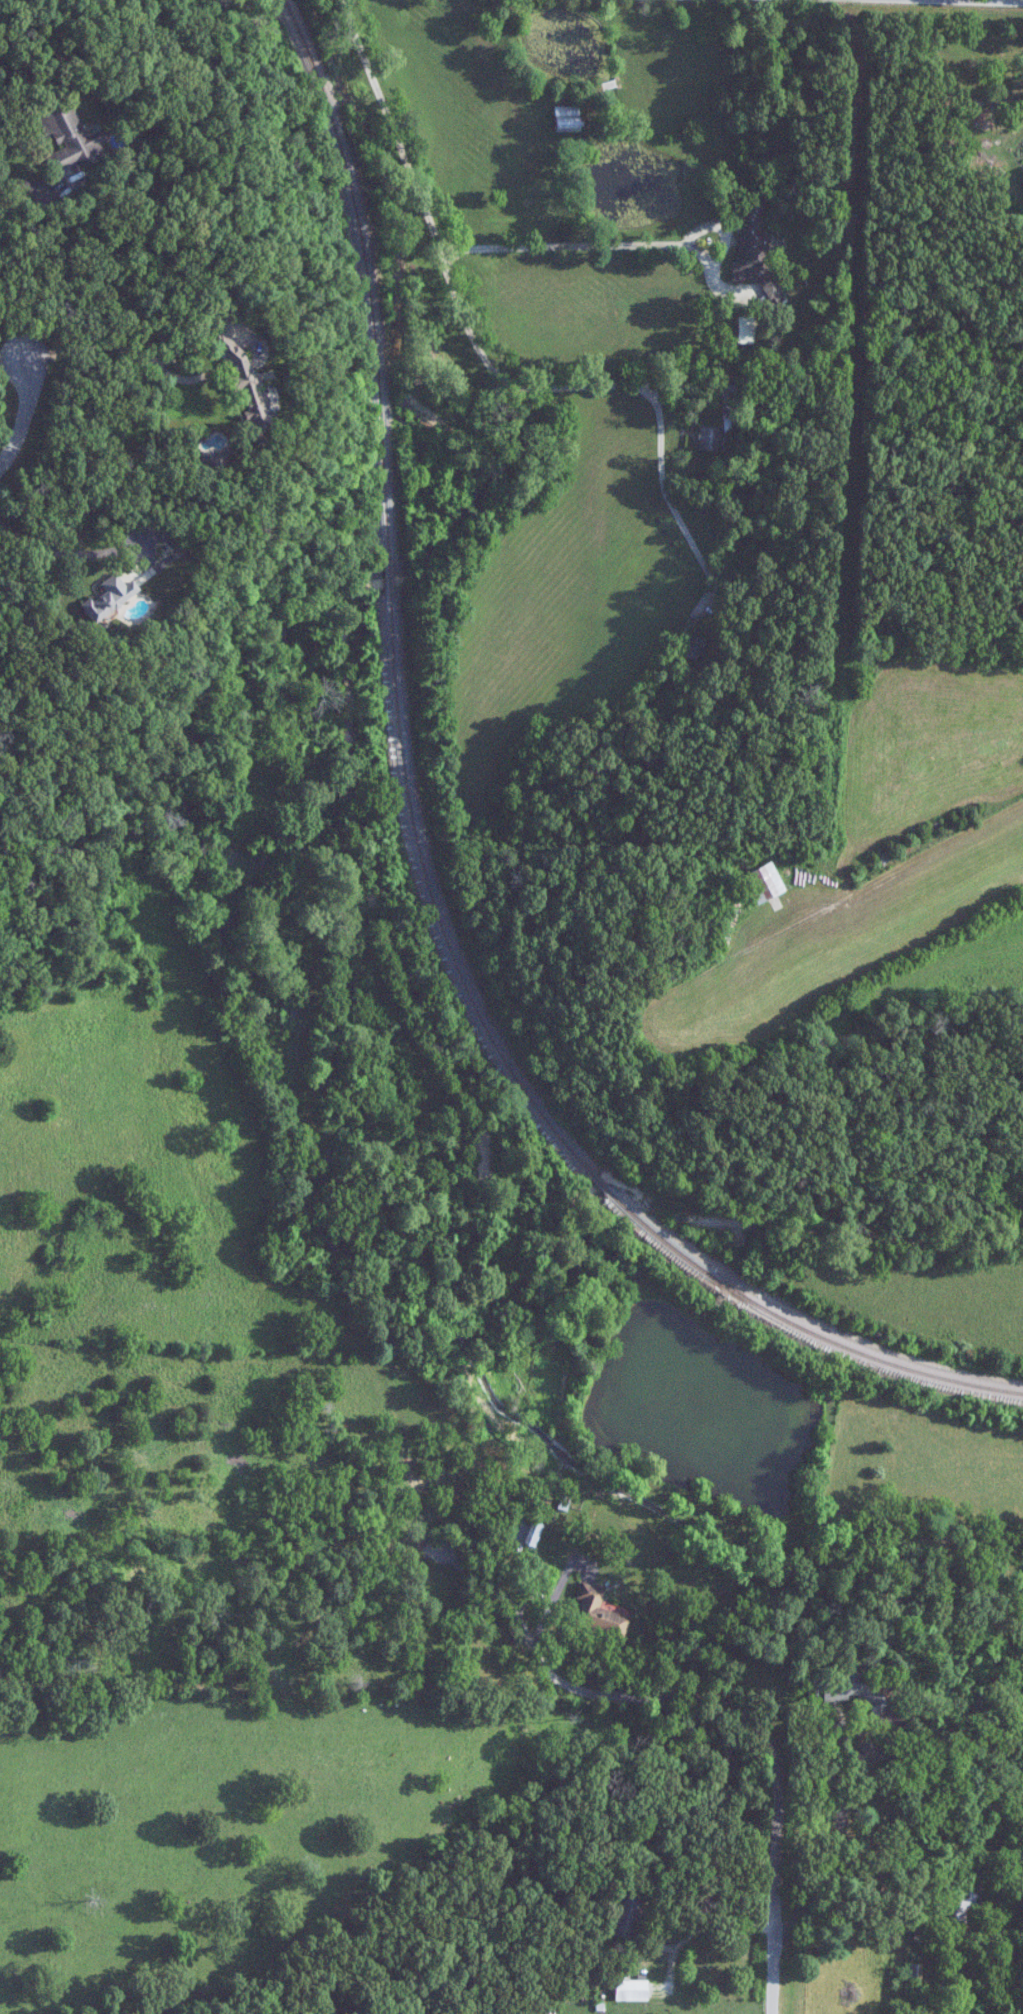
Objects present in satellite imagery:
road: (998, 0)
building: (567, 118)
building: (71, 137)
road: (22, 237)
road: (614, 243)
building: (756, 254)
railway: (361, 273)
road: (450, 285)
road: (157, 358)
building: (245, 384)
road: (24, 415)
building: (709, 438)
building: (214, 459)
road: (668, 501)
road: (63, 550)
railway: (389, 578)
building: (112, 597)
building: (694, 648)
building: (765, 883)
airport runway: (839, 931)
railway: (550, 1120)
building: (528, 1531)
building: (599, 1611)
building: (843, 1687)
road: (740, 1748)
building: (957, 1905)
building: (627, 1915)
road: (669, 1917)
building: (909, 1972)
building: (632, 1990)

